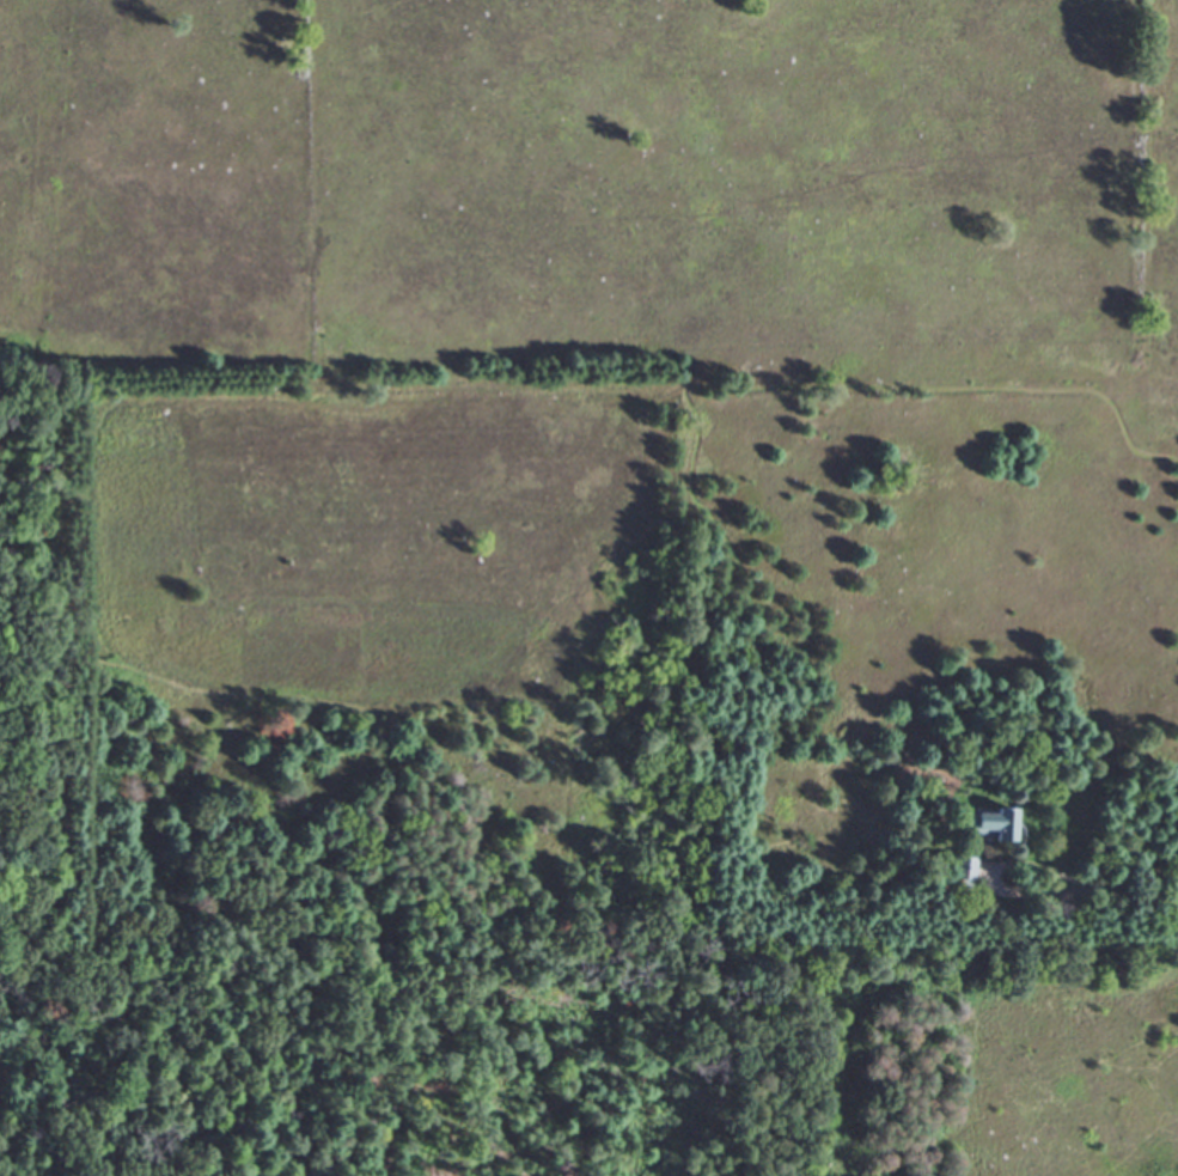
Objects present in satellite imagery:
building: (987, 824)
building: (963, 872)
road: (1100, 890)

